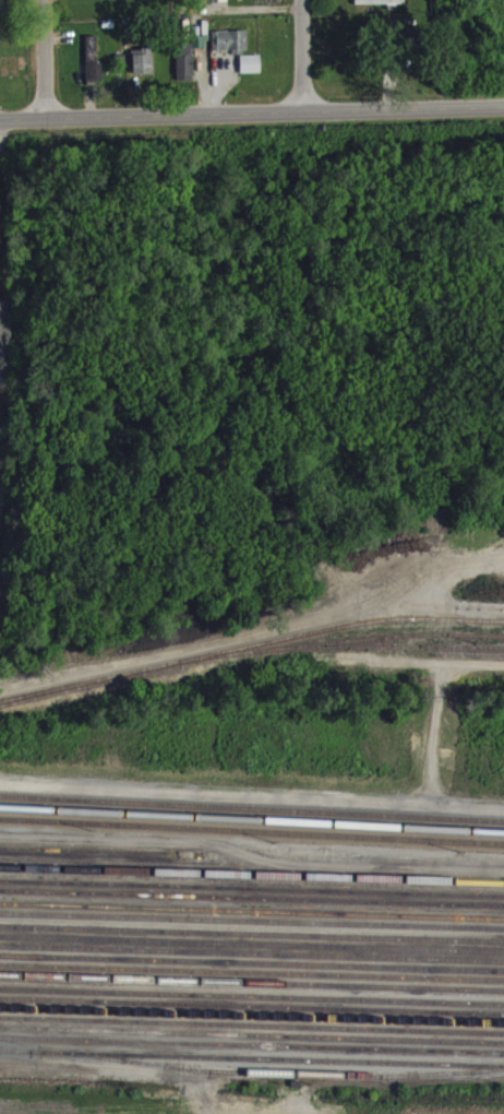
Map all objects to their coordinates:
building: (381, 7)
building: (1, 12)
building: (231, 49)
road: (302, 56)
road: (44, 59)
building: (189, 66)
building: (94, 69)
building: (143, 70)
building: (251, 72)
road: (251, 112)
building: (5, 346)
railway: (391, 635)
railway: (250, 644)
railway: (343, 645)
railway: (252, 811)
railway: (252, 816)
railway: (252, 829)
railway: (251, 840)
railway: (105, 861)
road: (251, 865)
railway: (251, 884)
railway: (251, 897)
railway: (251, 906)
railway: (252, 920)
railway: (252, 929)
railway: (252, 941)
railway: (252, 952)
railway: (252, 962)
railway: (252, 972)
railway: (251, 982)
railway: (251, 993)
railway: (252, 1005)
railway: (252, 1015)
railway: (252, 1024)
railway: (251, 1034)
railway: (251, 1045)
railway: (252, 1054)
railway: (13, 1058)
railway: (252, 1066)
railway: (279, 1081)
road: (111, 1083)

